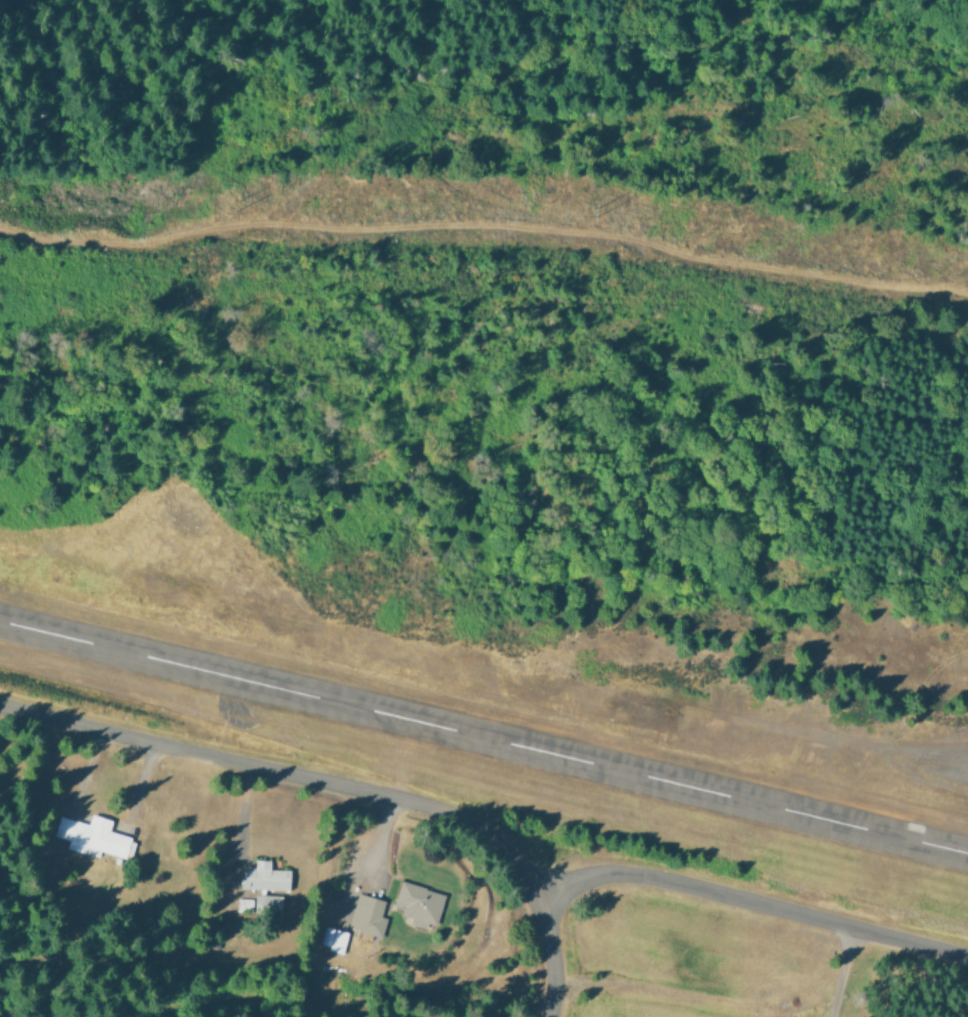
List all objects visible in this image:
road: (485, 226)
airport: (497, 727)
airport runway: (484, 737)
road: (343, 786)
building: (90, 836)
building: (268, 876)
building: (416, 902)
road: (752, 903)
building: (260, 904)
building: (364, 913)
building: (332, 938)

